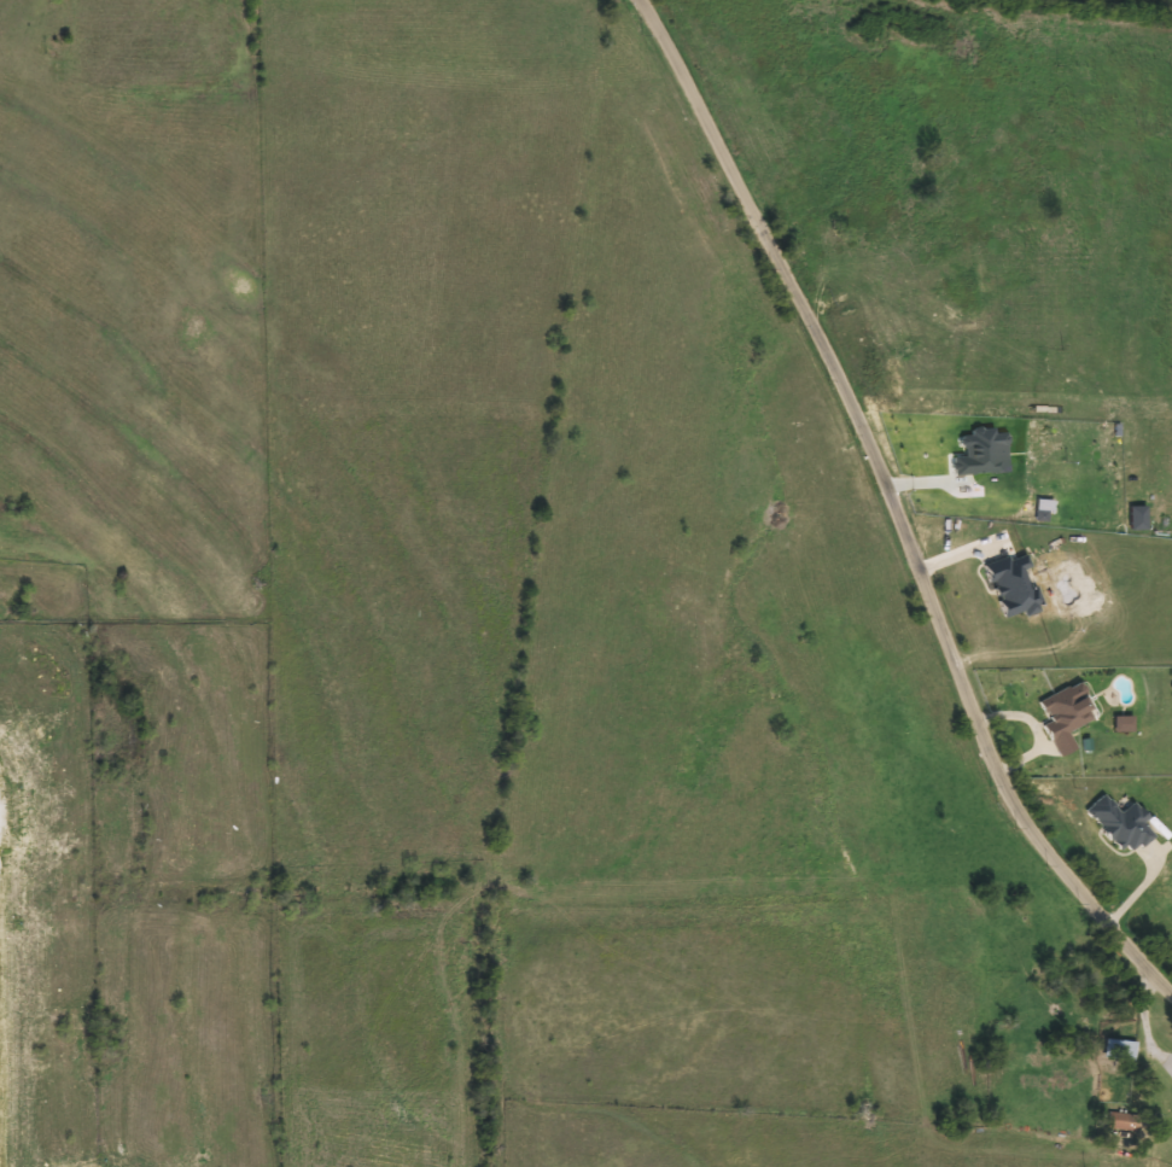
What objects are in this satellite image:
road: (897, 504)
building: (1010, 587)
building: (1065, 711)
building: (1118, 824)
building: (78, 1019)
building: (1116, 1050)
building: (1171, 1081)
building: (1119, 1122)

